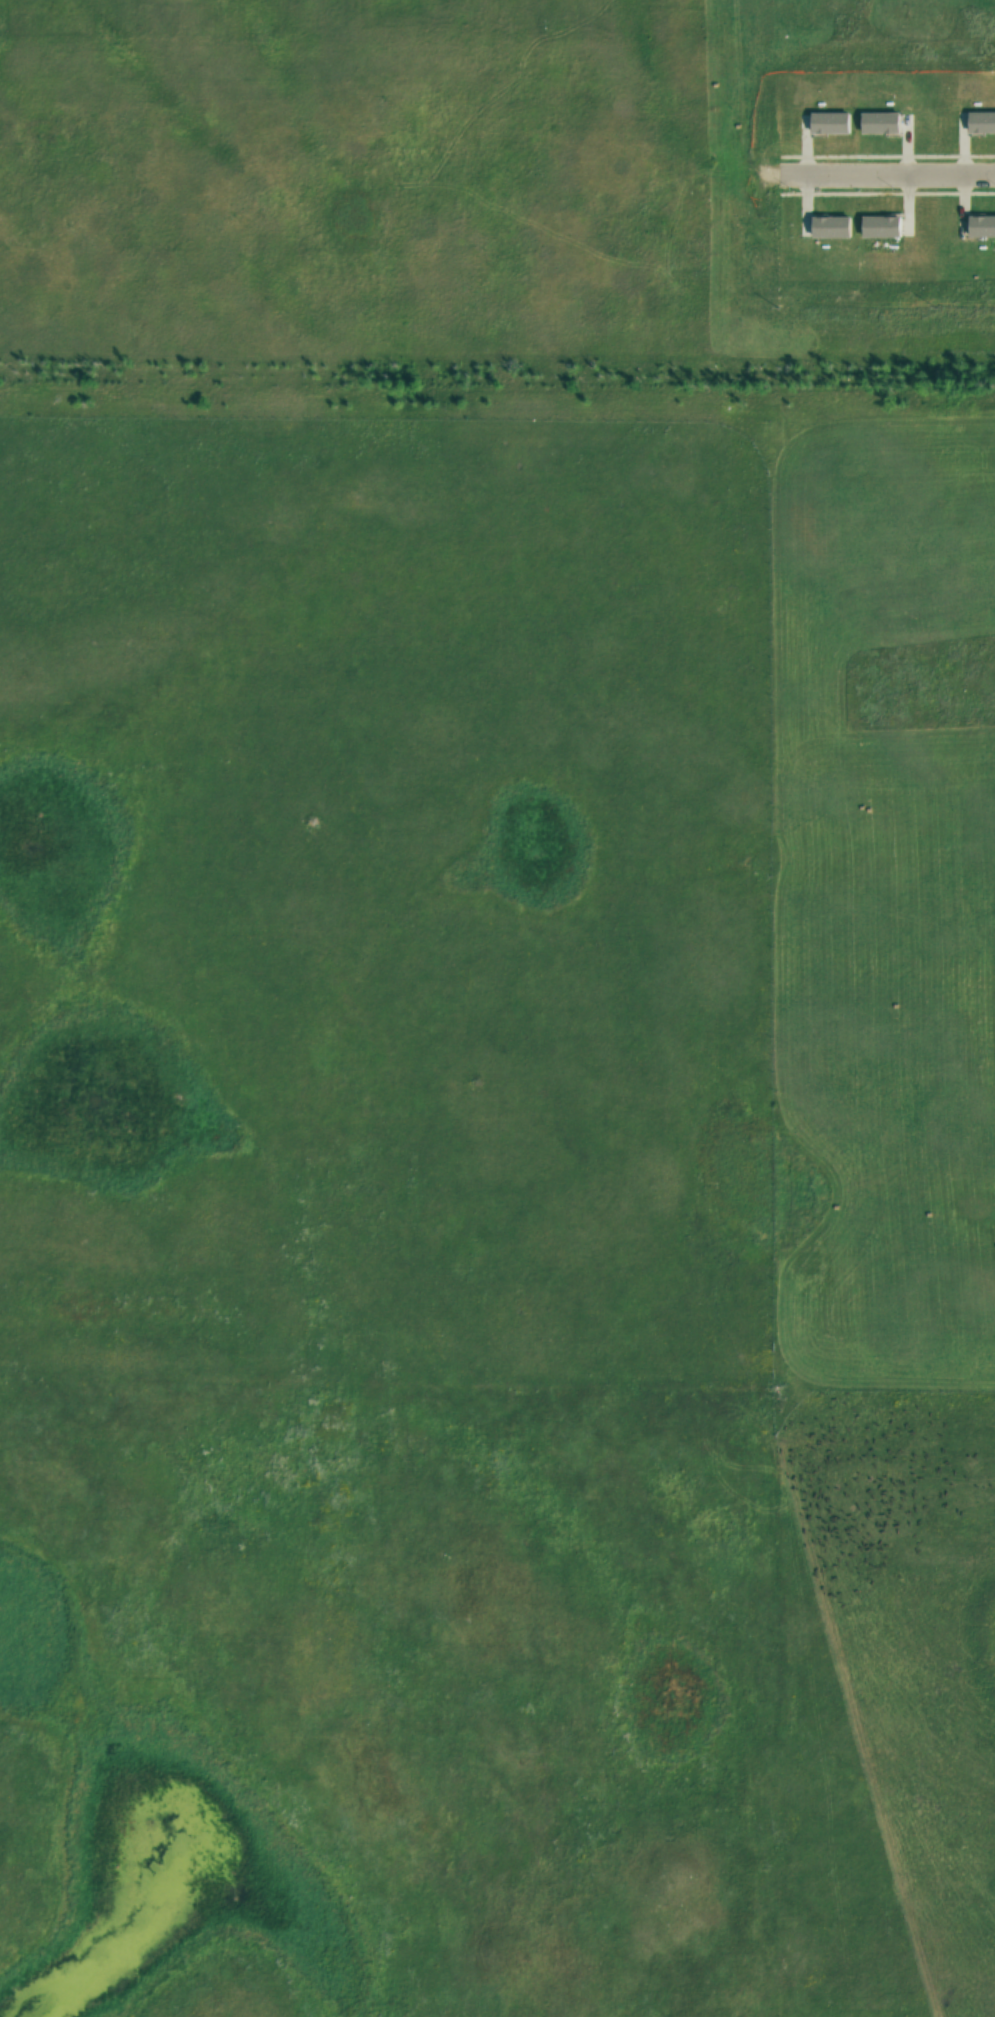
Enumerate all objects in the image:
road: (881, 173)

